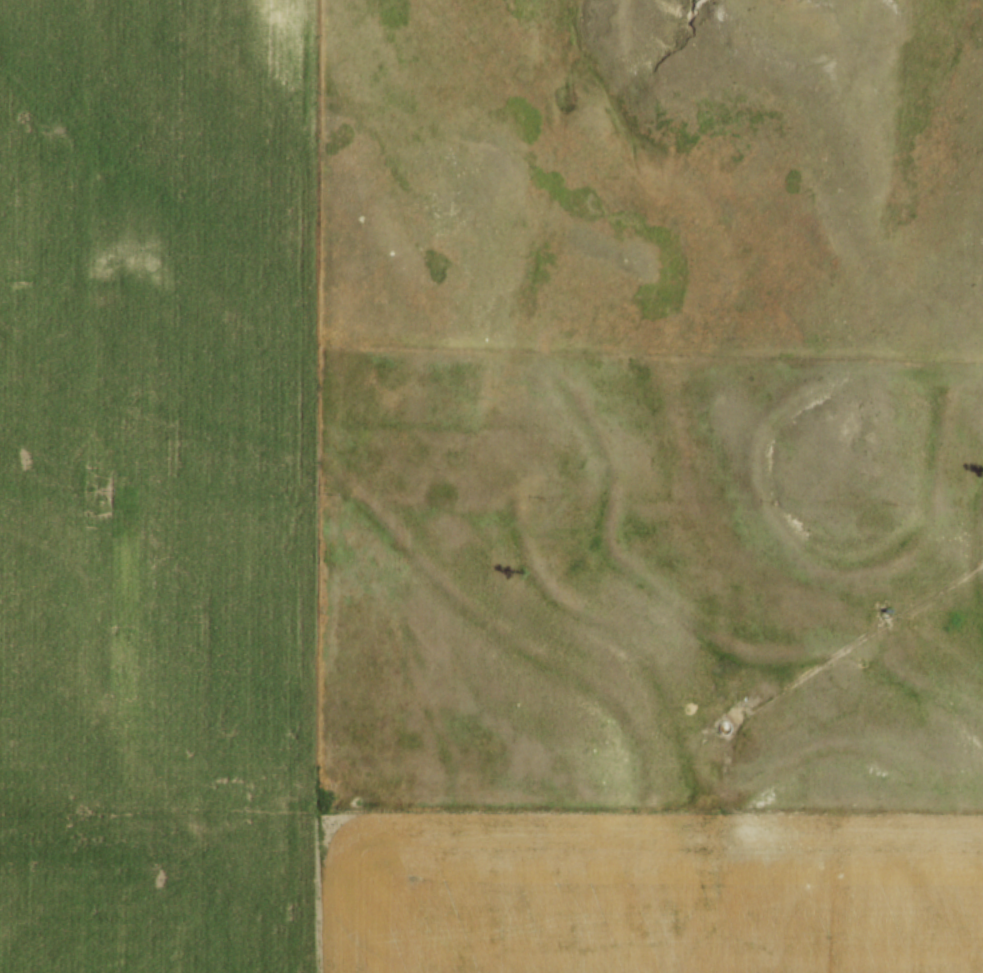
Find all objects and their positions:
crop: (286, 591)

